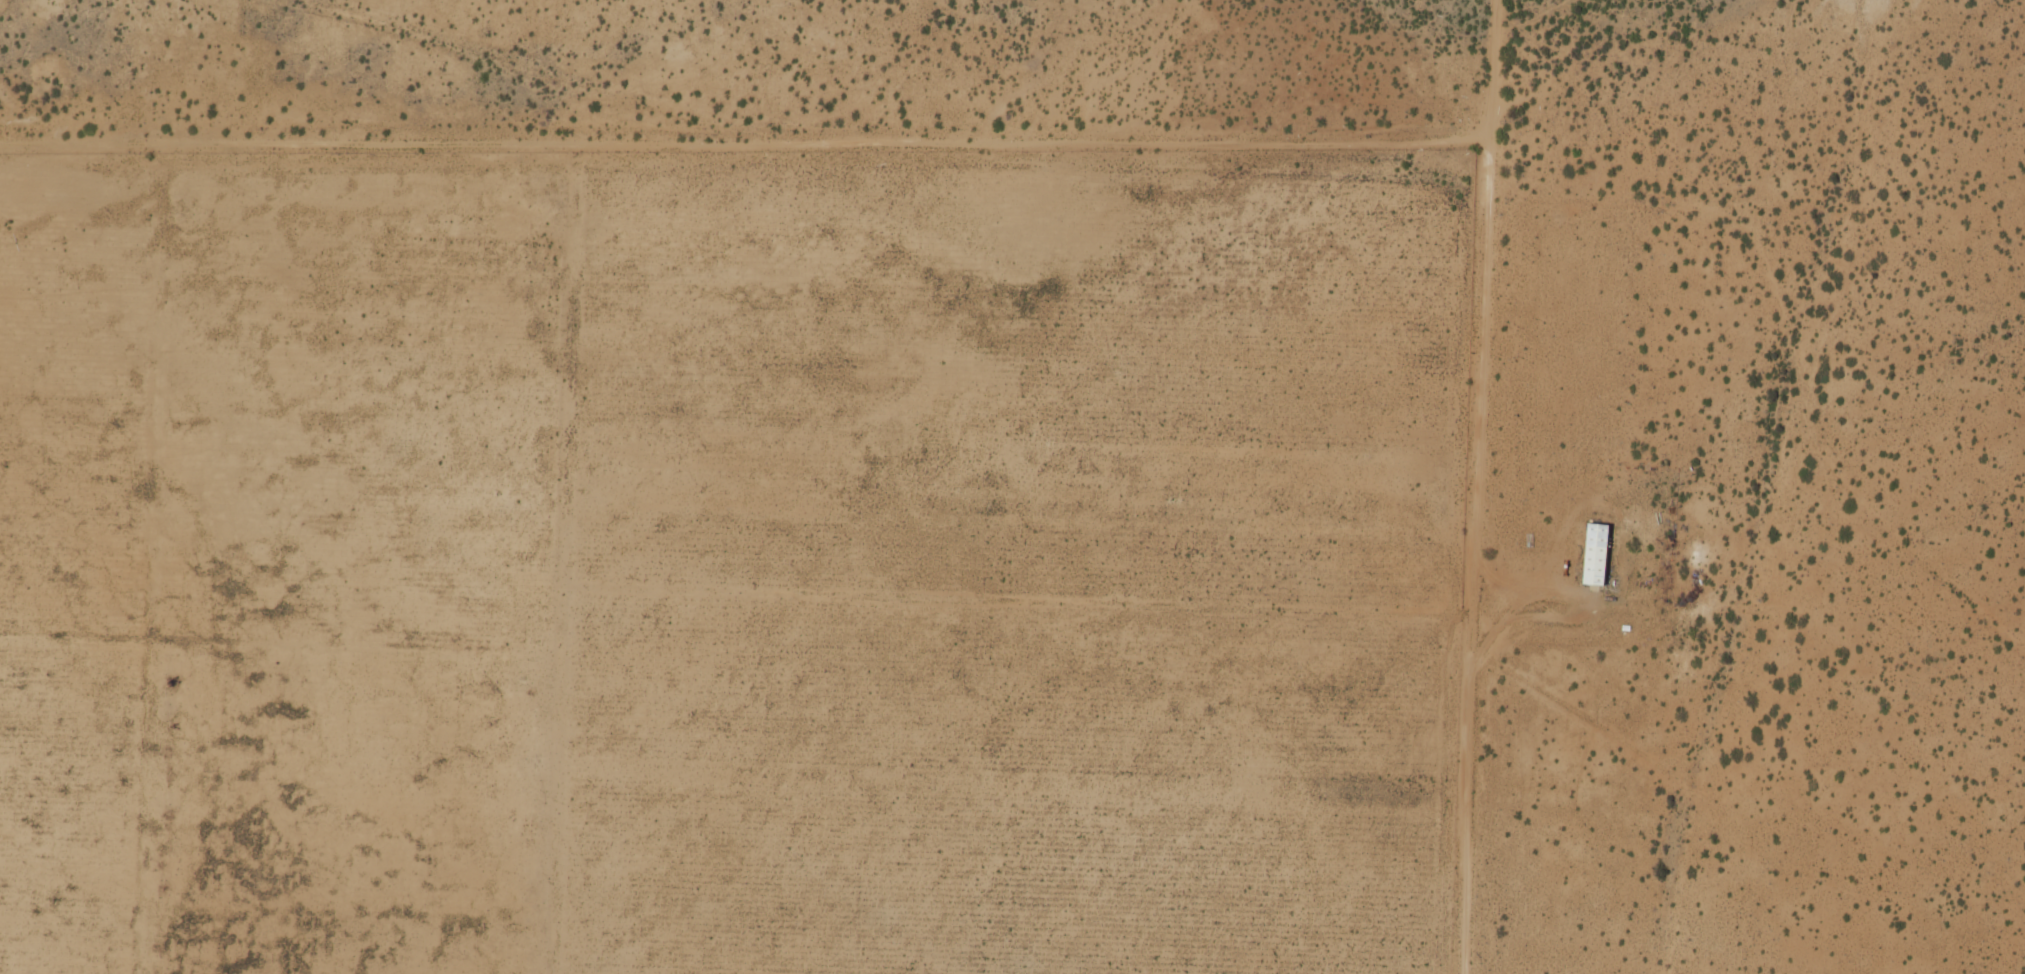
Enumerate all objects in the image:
road: (1156, 355)

